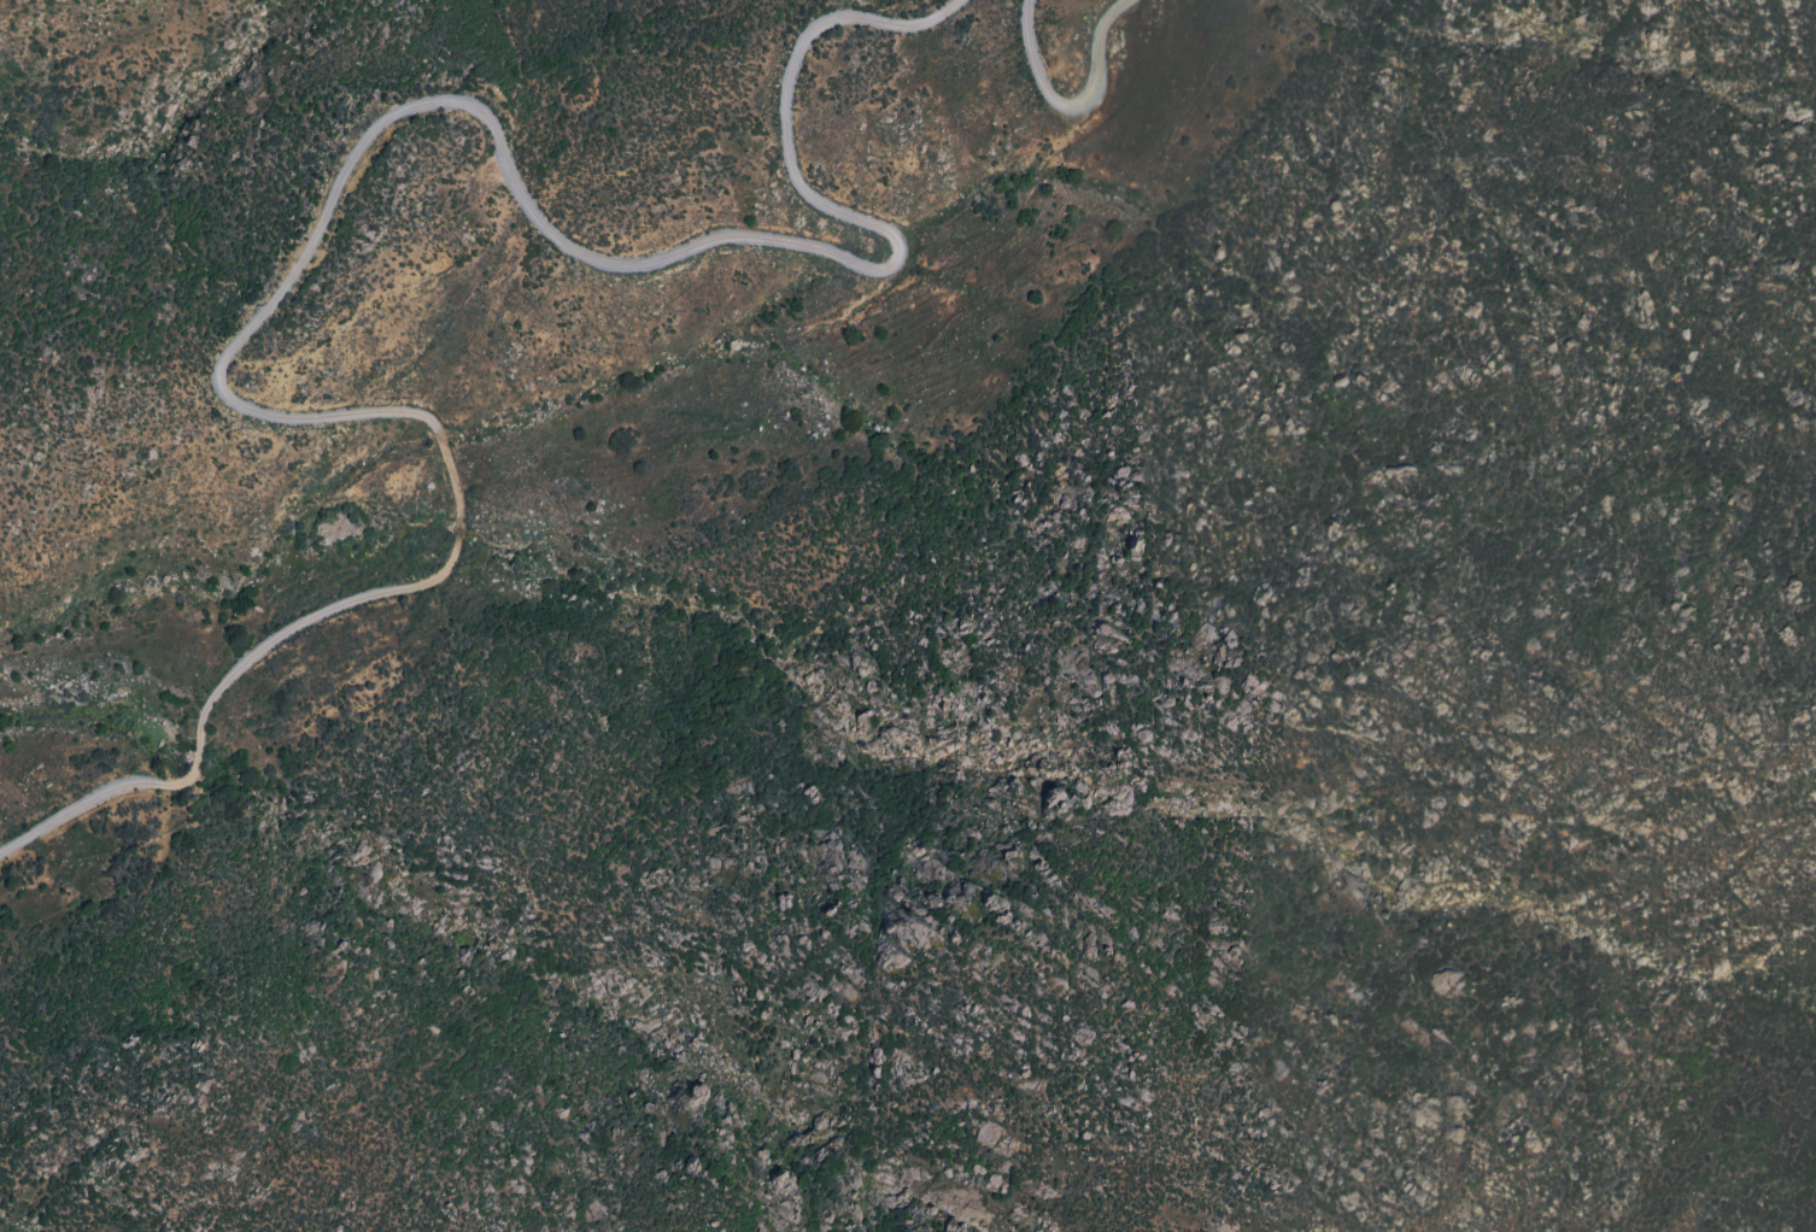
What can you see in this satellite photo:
road: (1060, 104)
road: (326, 199)

